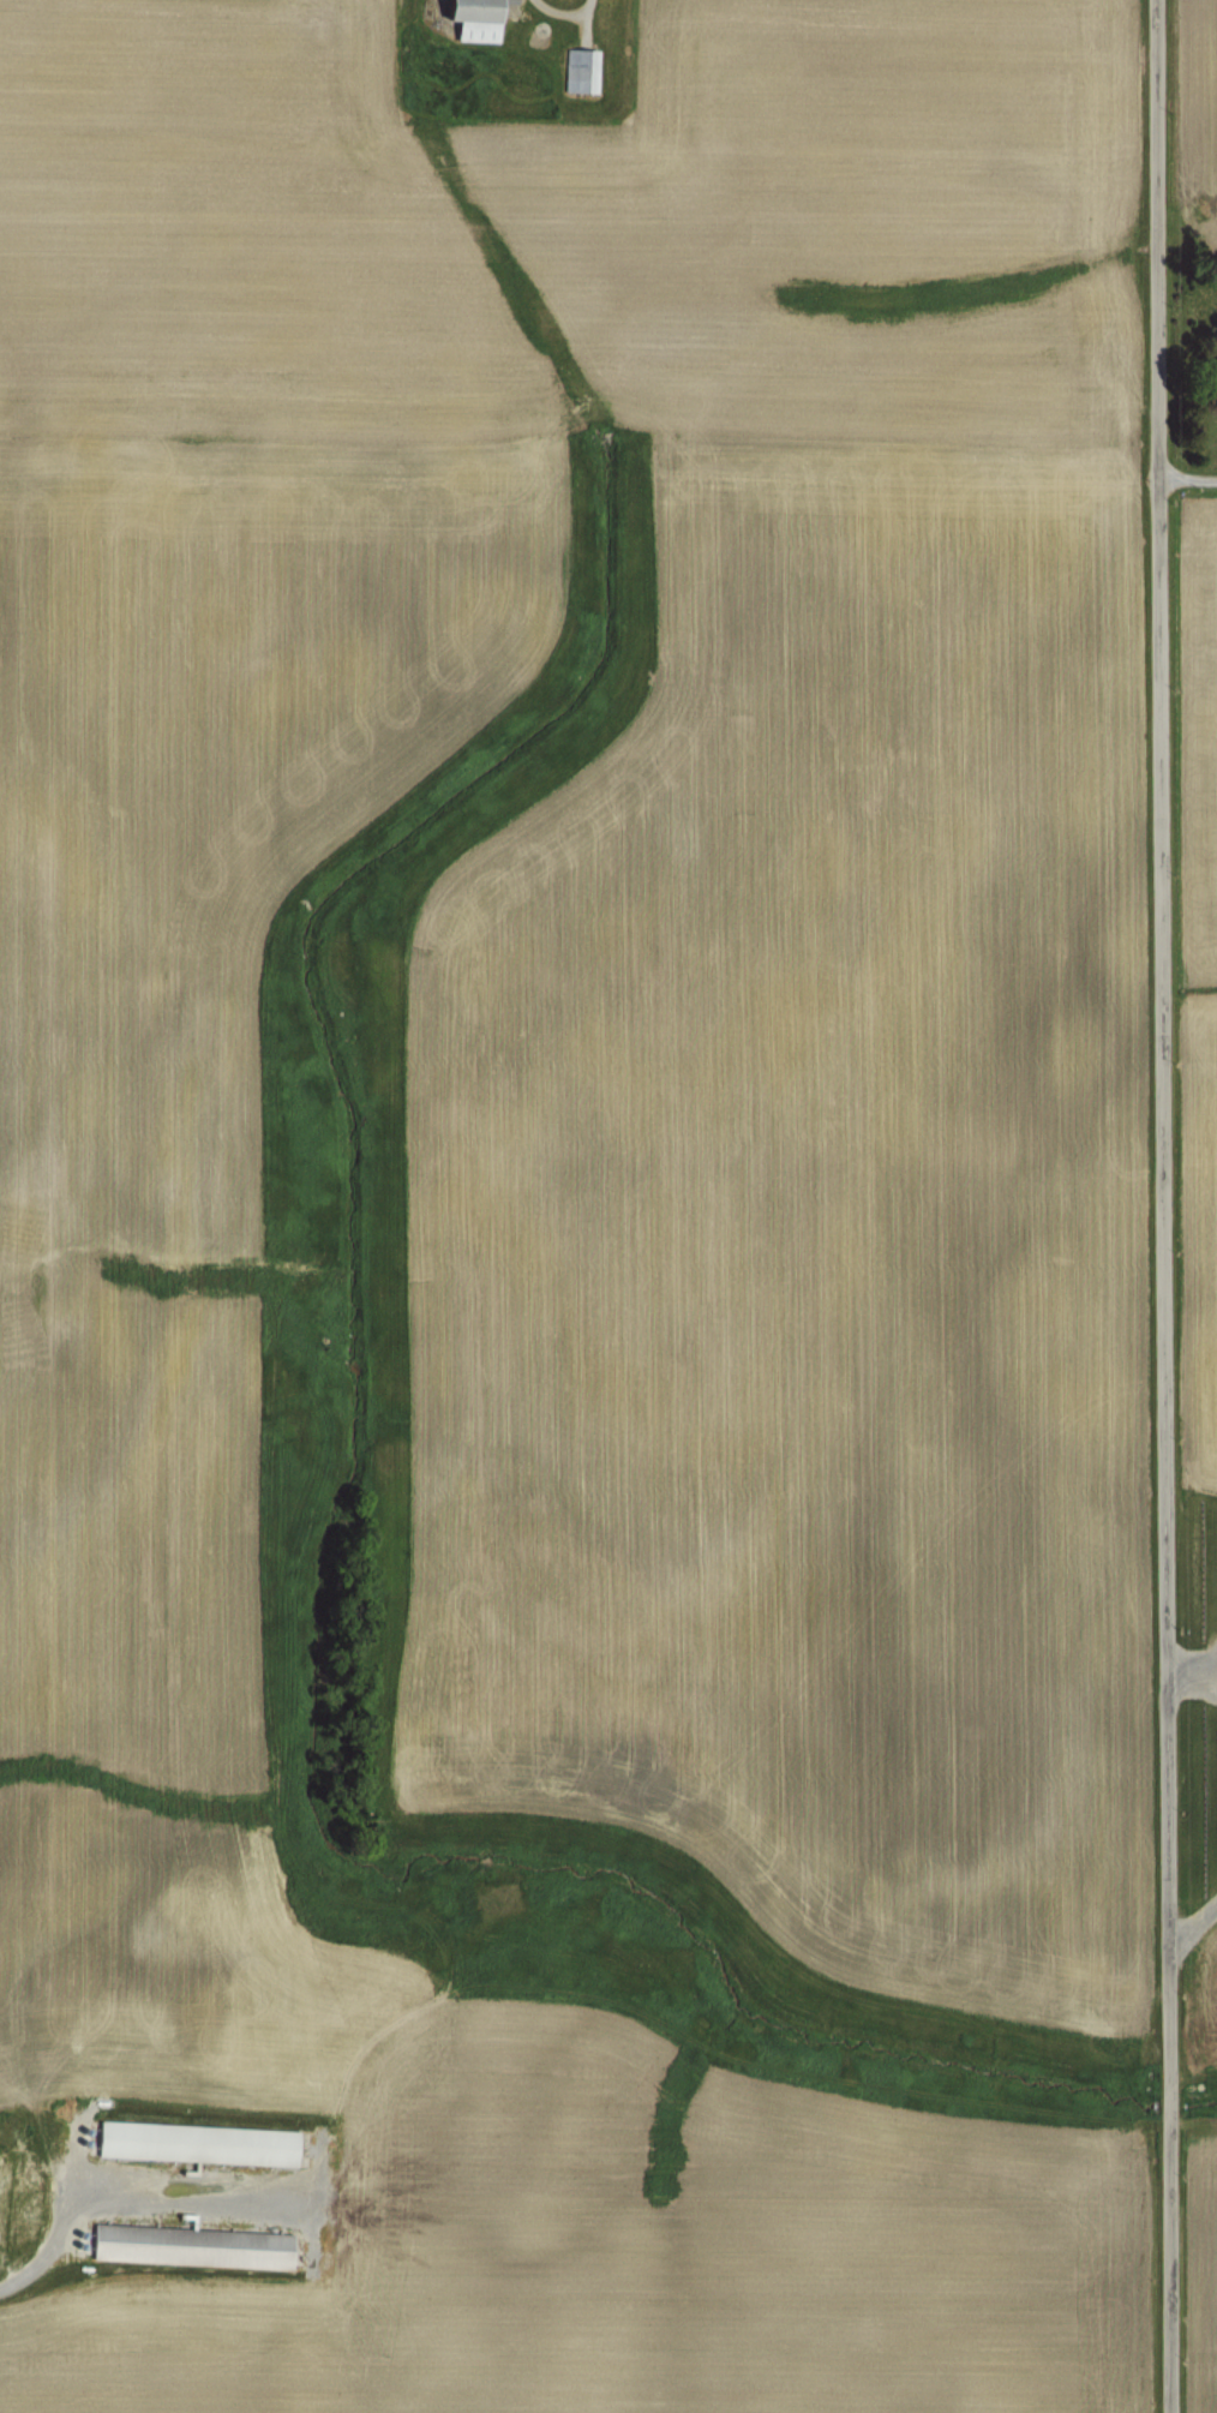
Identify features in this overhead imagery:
building: (470, 19)
building: (580, 72)
road: (1186, 477)
crop: (1198, 1132)
road: (1161, 1205)
crop: (590, 1208)
road: (1191, 1666)
road: (1193, 1915)
building: (193, 2145)
building: (188, 2247)
road: (40, 2259)

